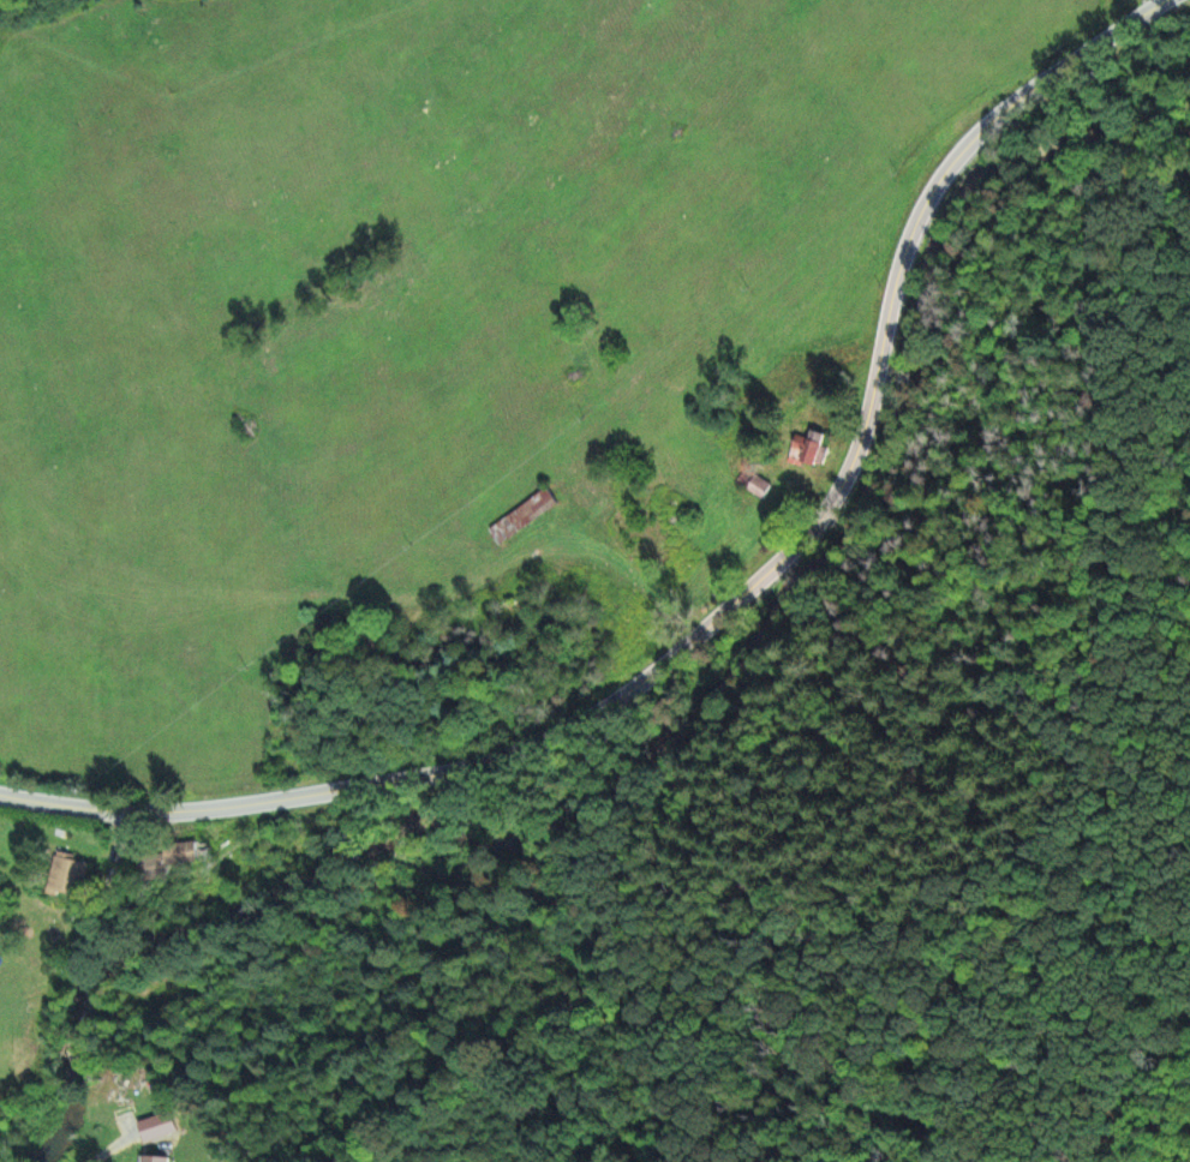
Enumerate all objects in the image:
building: (808, 450)
building: (760, 487)
building: (532, 510)
road: (742, 604)
road: (10, 796)
building: (165, 862)
building: (66, 880)
building: (154, 1160)

